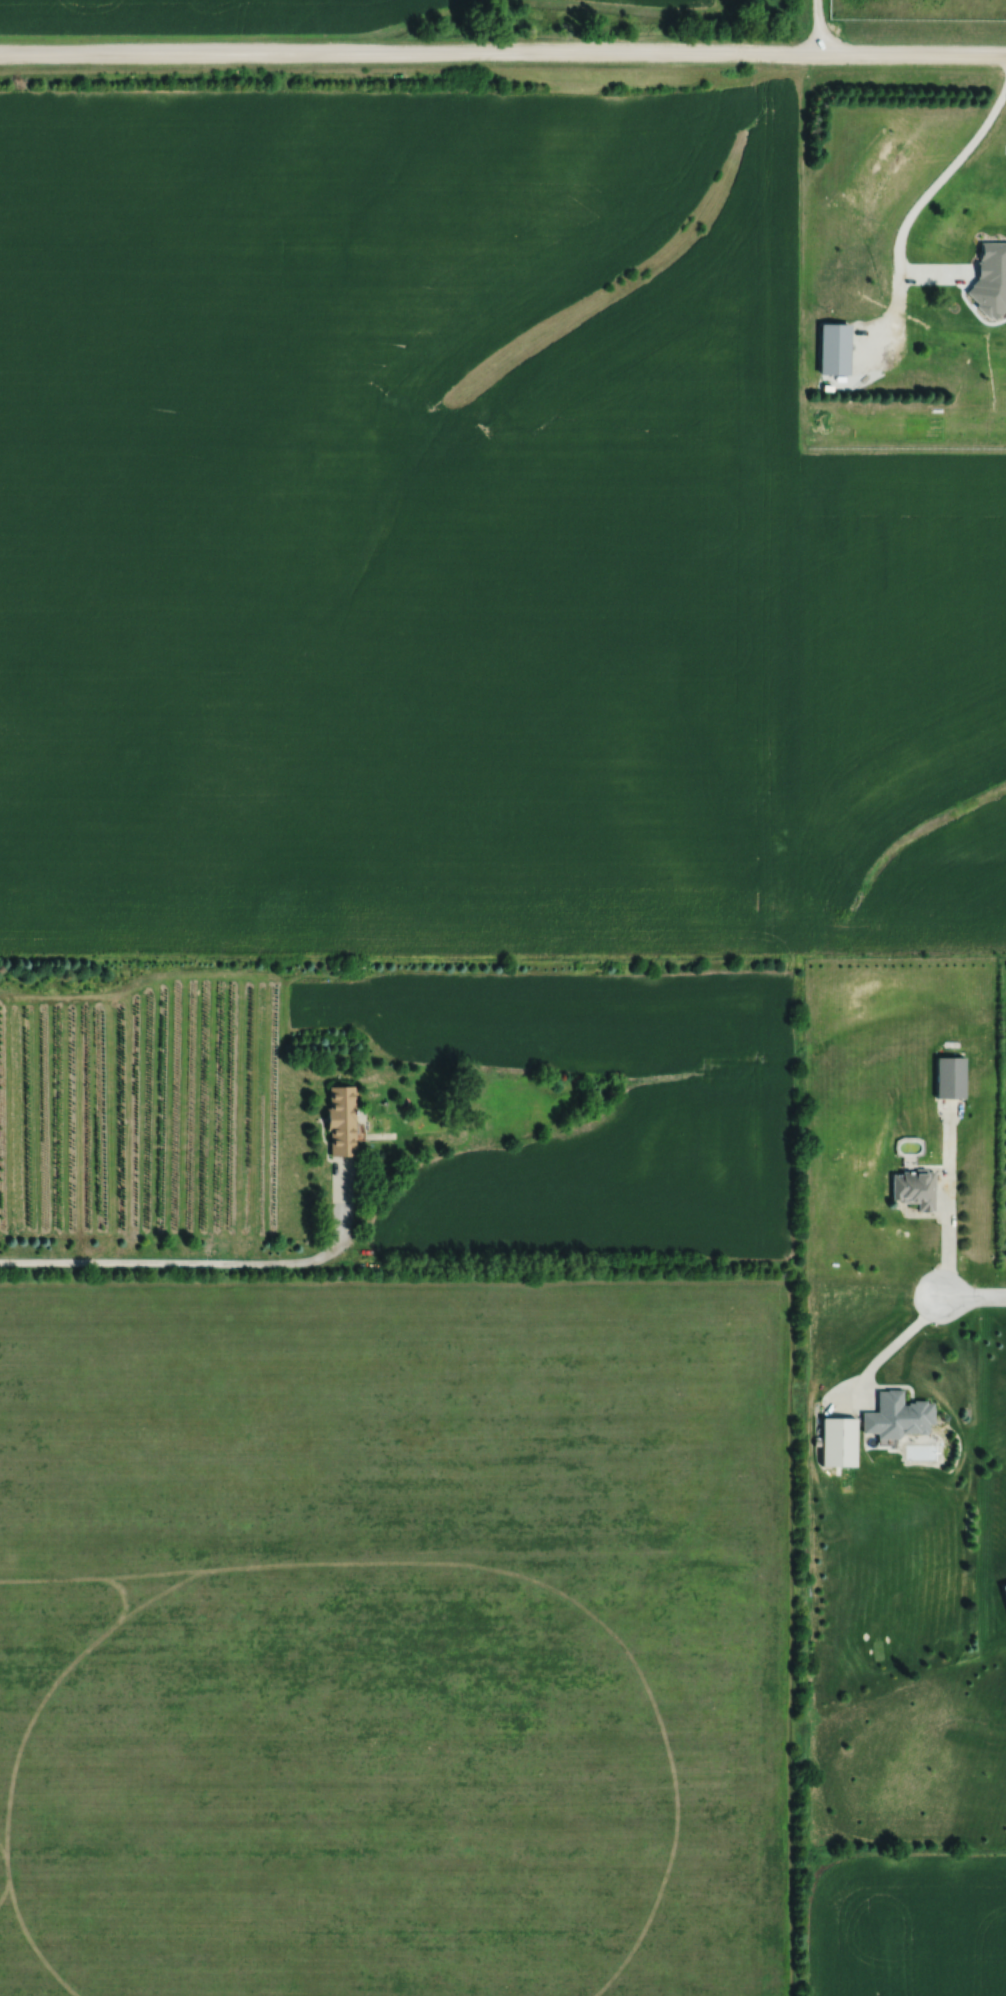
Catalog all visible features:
road: (816, 27)
road: (503, 53)
road: (917, 204)
building: (992, 264)
building: (951, 1077)
building: (341, 1120)
building: (914, 1188)
road: (945, 1243)
road: (181, 1262)
road: (973, 1298)
road: (895, 1341)
building: (893, 1414)
building: (837, 1441)

